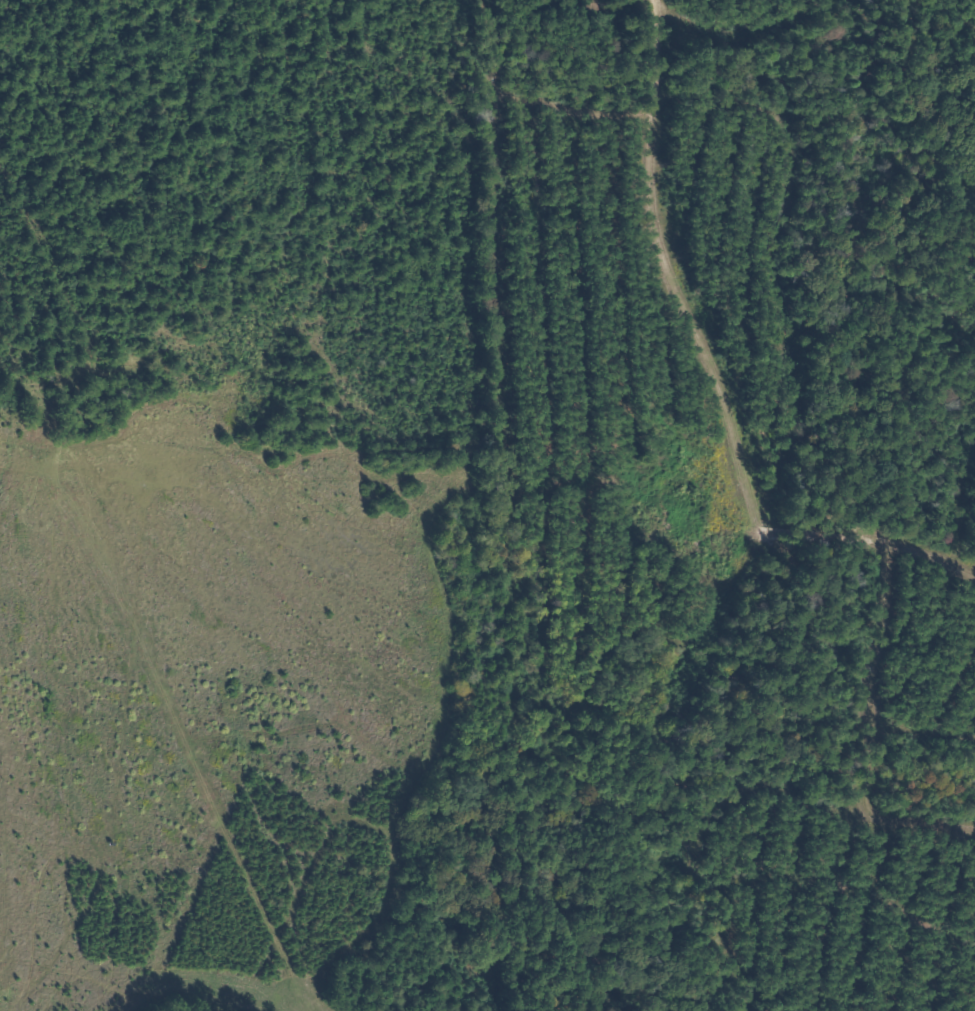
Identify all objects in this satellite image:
road: (698, 301)

